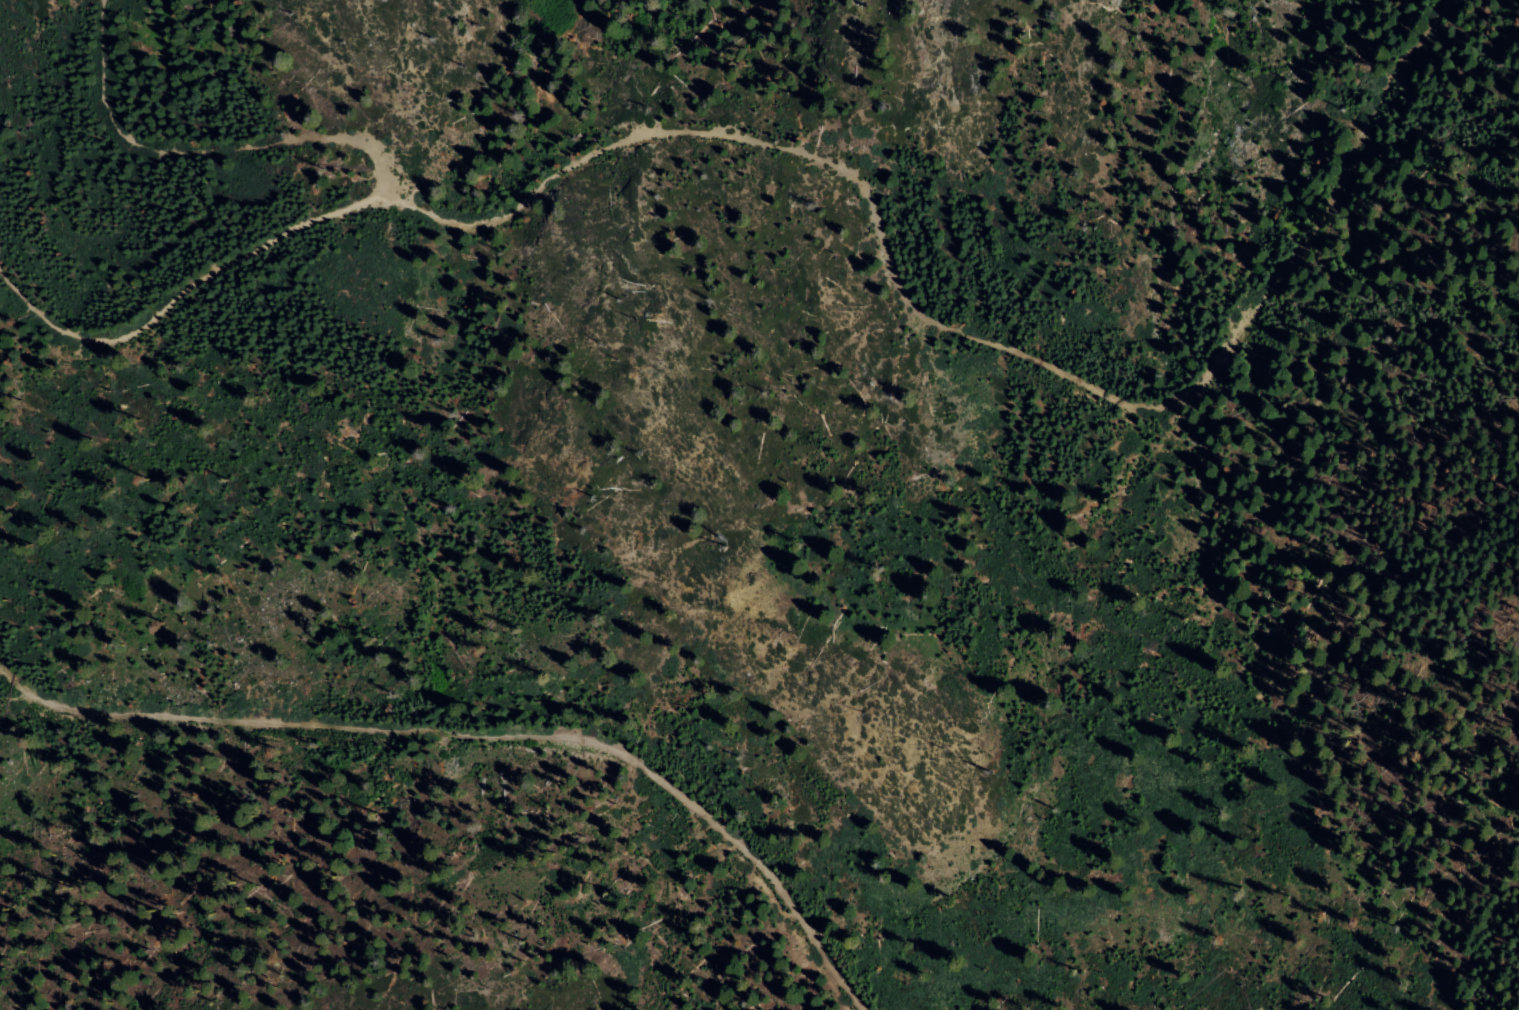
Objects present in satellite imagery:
road: (841, 171)
road: (484, 737)

